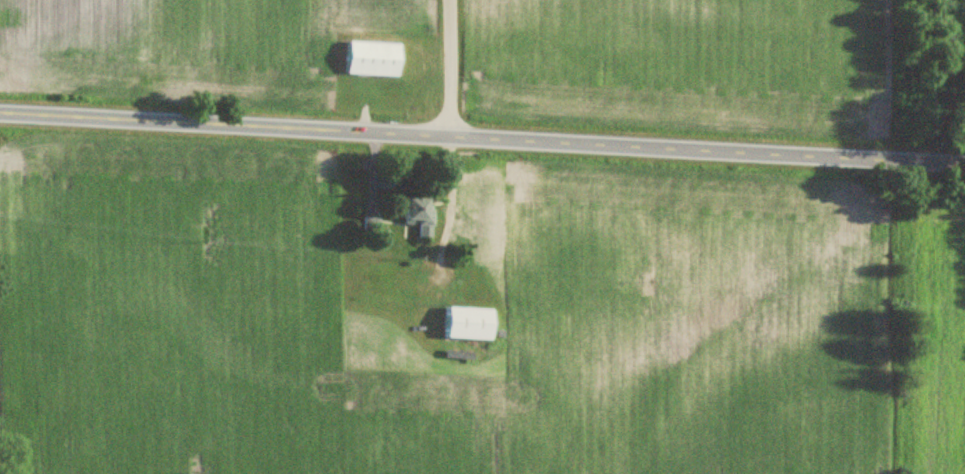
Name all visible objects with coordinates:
building: (369, 59)
road: (450, 69)
road: (482, 139)
building: (415, 215)
building: (370, 226)
building: (465, 324)

